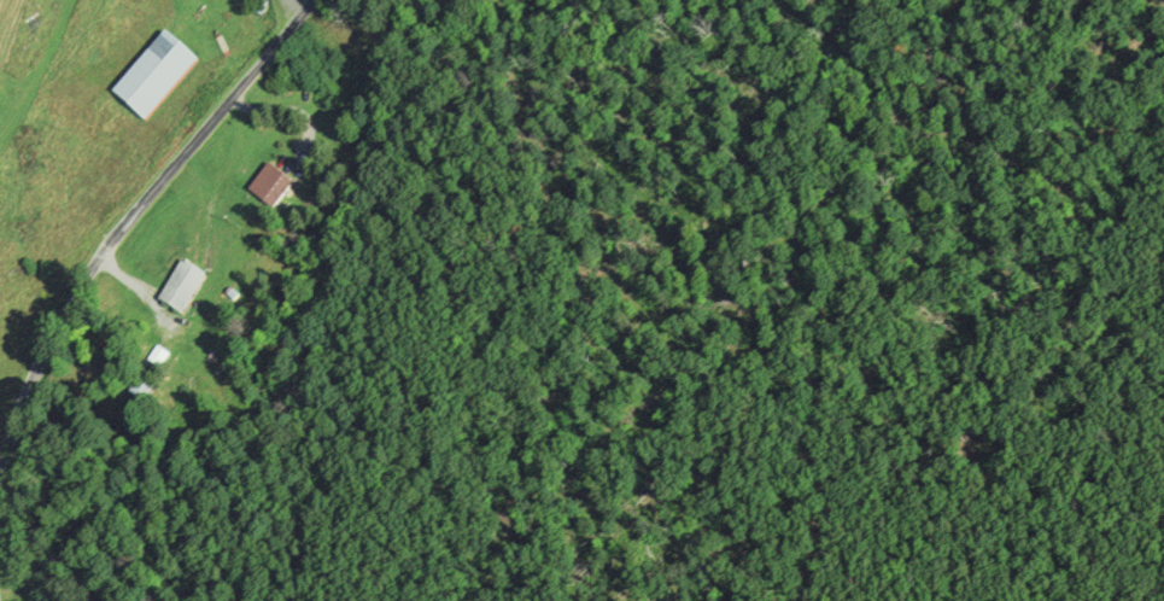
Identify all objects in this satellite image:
road: (303, 5)
building: (154, 75)
building: (271, 188)
road: (133, 216)
building: (183, 287)
building: (141, 392)

